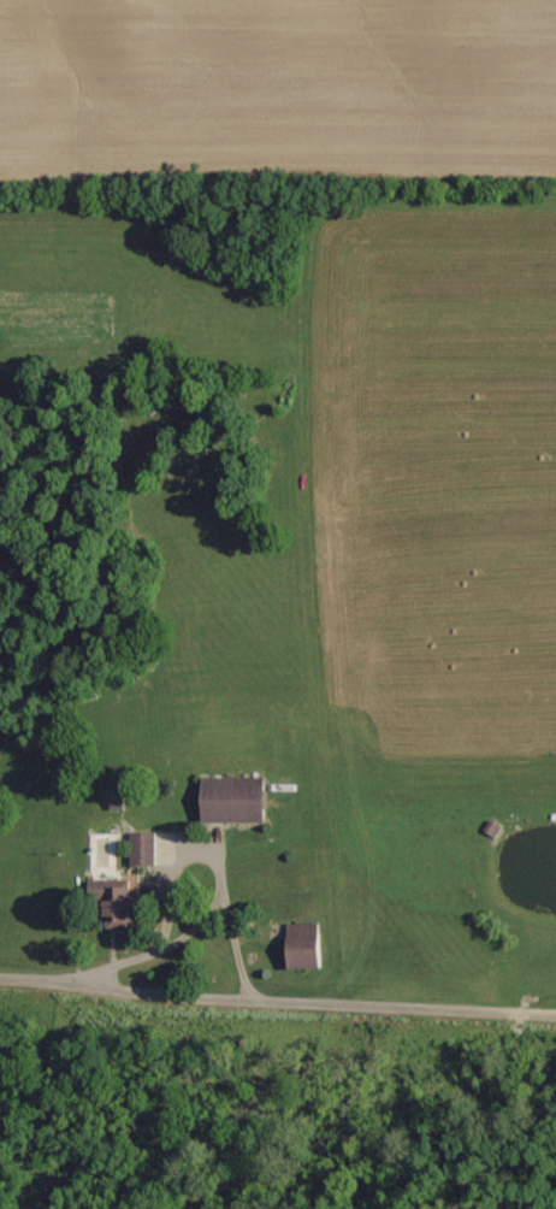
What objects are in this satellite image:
building: (239, 801)
building: (147, 850)
building: (125, 907)
building: (308, 946)
road: (274, 1033)

